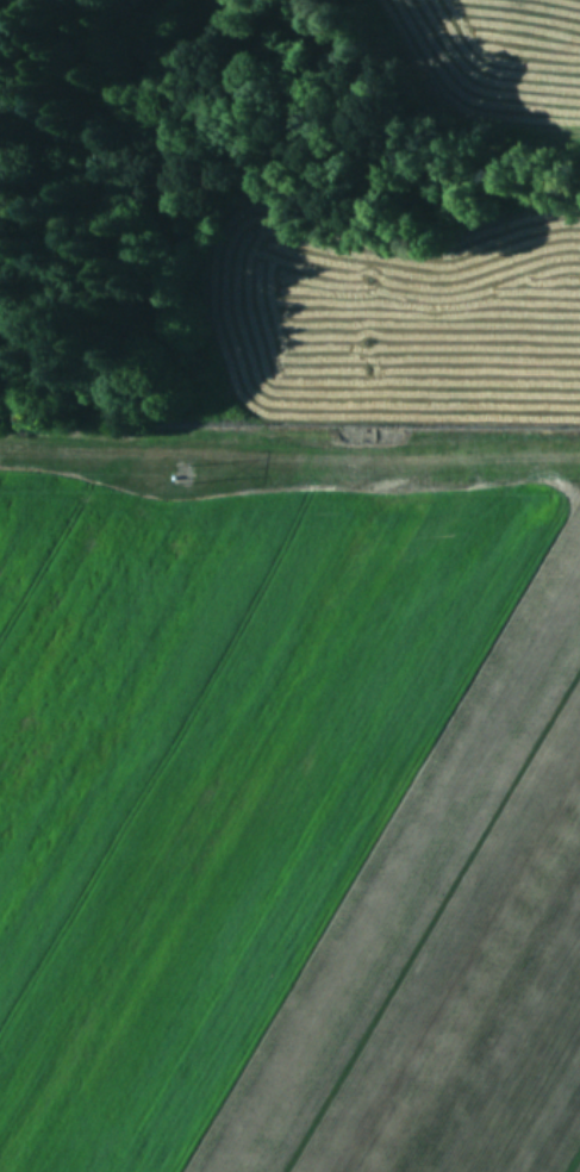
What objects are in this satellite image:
crop: (501, 50)
power tower: (181, 469)
crop: (304, 735)

